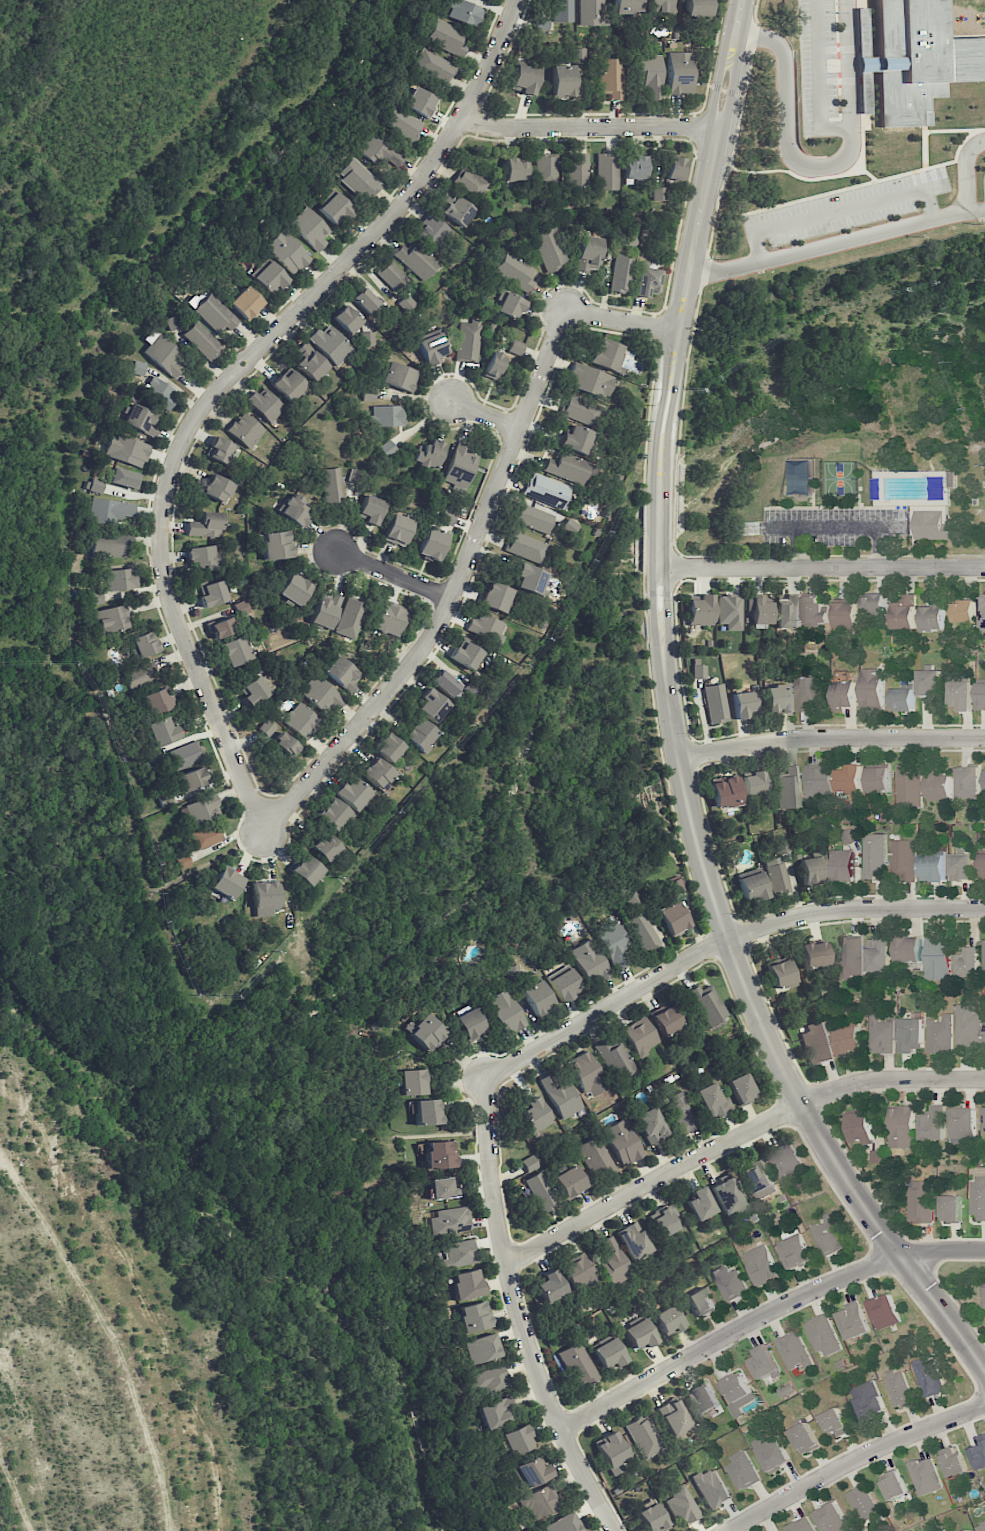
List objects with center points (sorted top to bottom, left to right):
building: (626, 6)
building: (659, 7)
building: (697, 8)
building: (563, 10)
building: (464, 12)
building: (590, 12)
building: (862, 32)
building: (446, 37)
building: (578, 53)
building: (917, 60)
building: (433, 66)
building: (679, 73)
building: (650, 75)
building: (611, 77)
road: (819, 78)
building: (523, 79)
building: (562, 80)
building: (420, 102)
building: (401, 123)
road: (588, 127)
building: (379, 152)
building: (546, 168)
building: (634, 168)
building: (673, 168)
road: (819, 168)
building: (514, 169)
building: (577, 169)
building: (606, 172)
road: (967, 172)
building: (357, 179)
building: (470, 183)
building: (658, 193)
road: (841, 207)
building: (334, 208)
building: (456, 211)
building: (310, 228)
building: (433, 231)
road: (837, 243)
building: (549, 248)
building: (286, 251)
building: (588, 253)
building: (416, 260)
building: (514, 271)
building: (621, 273)
building: (391, 275)
building: (268, 276)
building: (646, 281)
road: (687, 283)
building: (363, 298)
building: (246, 303)
building: (509, 304)
building: (215, 313)
building: (346, 319)
building: (367, 338)
building: (467, 339)
building: (202, 340)
building: (330, 344)
building: (515, 347)
building: (431, 348)
building: (162, 353)
building: (605, 353)
building: (309, 362)
building: (493, 364)
building: (138, 367)
building: (398, 376)
road: (230, 379)
building: (588, 380)
building: (288, 384)
building: (159, 392)
building: (265, 404)
building: (579, 411)
building: (385, 415)
road: (483, 415)
building: (141, 420)
building: (245, 429)
building: (575, 439)
building: (387, 448)
building: (126, 450)
building: (219, 450)
building: (428, 454)
building: (460, 465)
building: (565, 467)
building: (354, 475)
building: (124, 477)
building: (800, 478)
building: (332, 485)
building: (217, 488)
building: (545, 490)
building: (295, 509)
building: (370, 509)
building: (109, 511)
building: (447, 516)
building: (531, 518)
building: (206, 524)
building: (931, 526)
road: (835, 527)
building: (398, 530)
road: (476, 532)
building: (432, 543)
building: (109, 545)
building: (276, 545)
building: (525, 547)
building: (201, 557)
road: (821, 568)
road: (393, 576)
building: (530, 578)
building: (120, 579)
building: (294, 589)
building: (213, 593)
building: (95, 597)
building: (495, 597)
building: (875, 605)
building: (325, 609)
building: (700, 610)
building: (729, 611)
building: (759, 611)
building: (815, 611)
building: (787, 612)
building: (964, 612)
building: (983, 612)
building: (847, 614)
building: (905, 614)
building: (350, 618)
building: (391, 618)
building: (933, 618)
building: (109, 619)
building: (230, 620)
building: (486, 627)
building: (144, 644)
building: (234, 650)
building: (465, 655)
building: (698, 671)
building: (341, 673)
building: (141, 675)
building: (445, 682)
building: (929, 682)
building: (872, 688)
building: (252, 690)
building: (808, 692)
building: (320, 695)
building: (844, 695)
building: (960, 695)
building: (981, 696)
building: (778, 698)
building: (903, 700)
building: (156, 701)
building: (715, 703)
building: (742, 704)
building: (432, 705)
building: (299, 720)
building: (162, 731)
building: (419, 734)
building: (276, 738)
road: (830, 738)
building: (387, 747)
building: (185, 755)
building: (376, 772)
building: (192, 778)
building: (850, 779)
building: (819, 780)
building: (879, 780)
building: (753, 782)
building: (969, 782)
building: (909, 786)
building: (939, 787)
building: (789, 789)
building: (725, 792)
building: (352, 793)
building: (164, 799)
building: (202, 809)
building: (333, 814)
building: (202, 837)
building: (848, 837)
building: (325, 847)
building: (874, 856)
building: (904, 857)
building: (182, 859)
building: (842, 865)
building: (983, 866)
building: (933, 867)
building: (960, 867)
building: (305, 870)
building: (812, 870)
building: (777, 875)
building: (226, 882)
building: (752, 886)
building: (265, 897)
building: (671, 918)
building: (641, 931)
road: (717, 939)
building: (612, 944)
building: (908, 950)
building: (814, 955)
building: (879, 956)
building: (851, 957)
building: (937, 958)
building: (588, 962)
building: (969, 963)
building: (781, 974)
building: (562, 983)
building: (537, 997)
road: (752, 1001)
building: (707, 1005)
building: (505, 1011)
building: (666, 1020)
building: (470, 1023)
building: (969, 1025)
building: (427, 1033)
building: (881, 1034)
building: (910, 1034)
building: (940, 1034)
building: (640, 1035)
building: (847, 1041)
building: (816, 1044)
building: (615, 1058)
building: (587, 1073)
building: (412, 1082)
building: (741, 1088)
building: (560, 1096)
building: (712, 1101)
building: (427, 1111)
building: (680, 1113)
building: (534, 1115)
building: (983, 1119)
building: (963, 1123)
building: (933, 1124)
building: (650, 1126)
building: (861, 1127)
building: (901, 1127)
road: (734, 1137)
building: (622, 1142)
building: (439, 1154)
building: (878, 1156)
building: (595, 1157)
building: (786, 1162)
building: (529, 1163)
building: (758, 1179)
building: (568, 1181)
building: (442, 1188)
building: (540, 1192)
building: (726, 1195)
building: (978, 1197)
building: (922, 1201)
building: (699, 1203)
building: (951, 1209)
building: (449, 1220)
building: (662, 1221)
building: (828, 1235)
building: (634, 1241)
building: (794, 1248)
building: (458, 1252)
building: (613, 1260)
building: (762, 1265)
building: (579, 1271)
building: (729, 1283)
building: (466, 1284)
building: (550, 1286)
building: (984, 1289)
building: (700, 1302)
building: (885, 1312)
road: (516, 1313)
road: (763, 1315)
building: (473, 1316)
building: (667, 1321)
building: (853, 1322)
building: (639, 1334)
building: (824, 1336)
building: (483, 1348)
building: (794, 1351)
building: (608, 1353)
building: (764, 1362)
building: (577, 1364)
building: (928, 1377)
building: (490, 1379)
building: (899, 1389)
building: (738, 1394)
building: (704, 1400)
building: (868, 1400)
building: (498, 1412)
building: (673, 1416)
building: (835, 1423)
building: (643, 1436)
building: (804, 1438)
building: (520, 1440)
building: (772, 1452)
building: (612, 1453)
building: (979, 1455)
road: (851, 1459)
building: (953, 1461)
building: (742, 1470)
building: (534, 1472)
building: (926, 1476)
building: (894, 1485)
building: (711, 1487)
building: (540, 1502)
building: (681, 1504)
building: (865, 1506)
building: (651, 1517)
building: (832, 1519)
building: (563, 1523)
building: (801, 1525)
building: (980, 1526)
building: (969, 1530)

